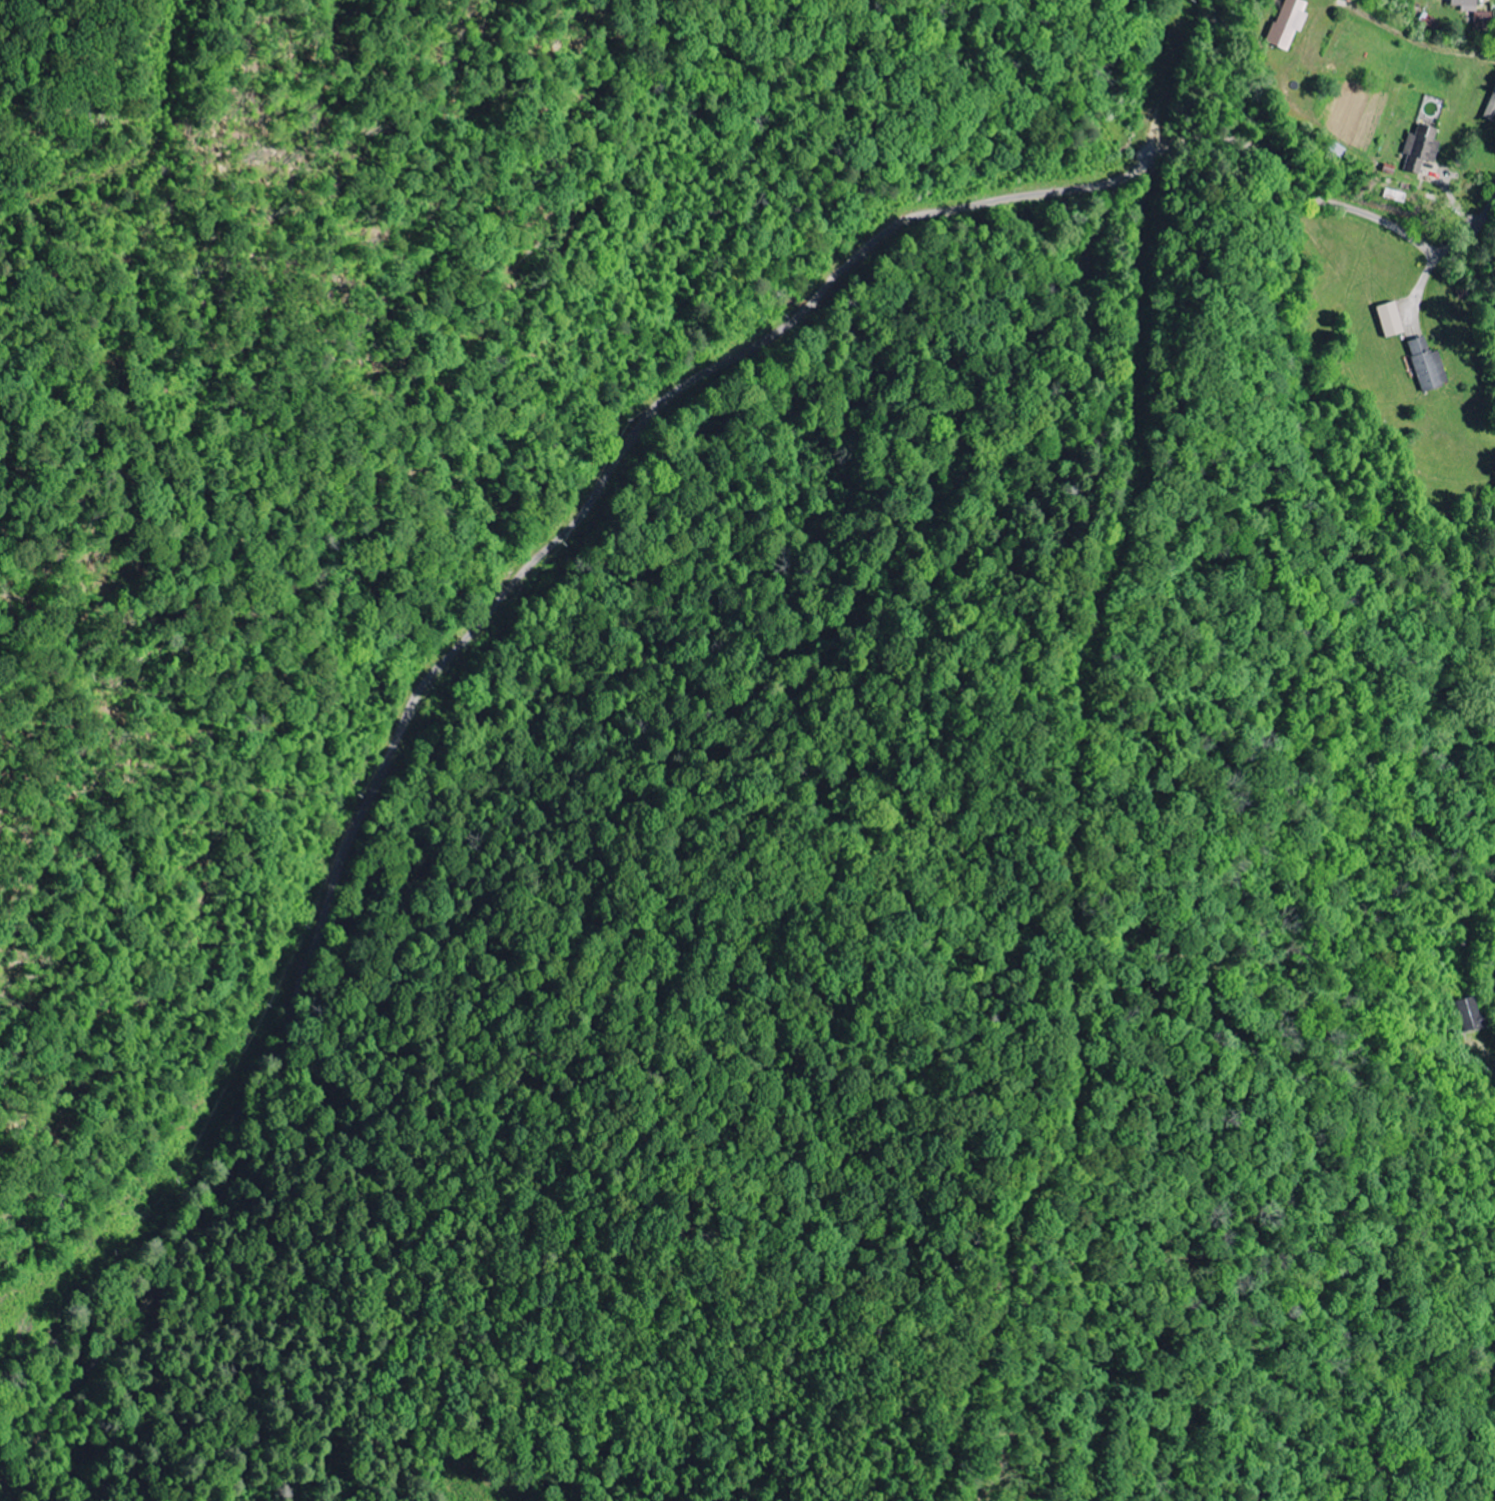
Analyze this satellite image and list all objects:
building: (1468, 5)
building: (1290, 23)
building: (1492, 111)
building: (1423, 148)
road: (1313, 195)
building: (1393, 321)
building: (1430, 366)
road: (418, 694)
building: (1471, 1015)
road: (1494, 1065)

